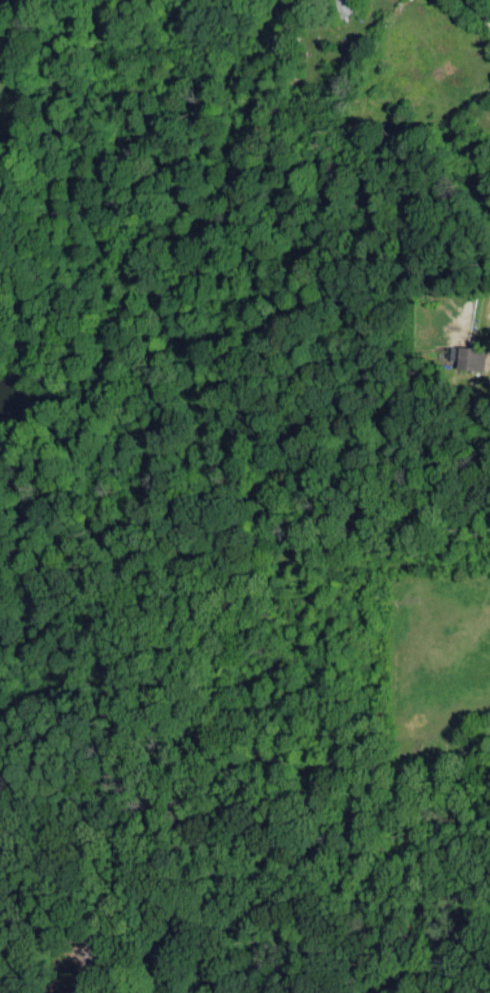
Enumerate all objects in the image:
road: (486, 3)
building: (338, 6)
building: (464, 357)

